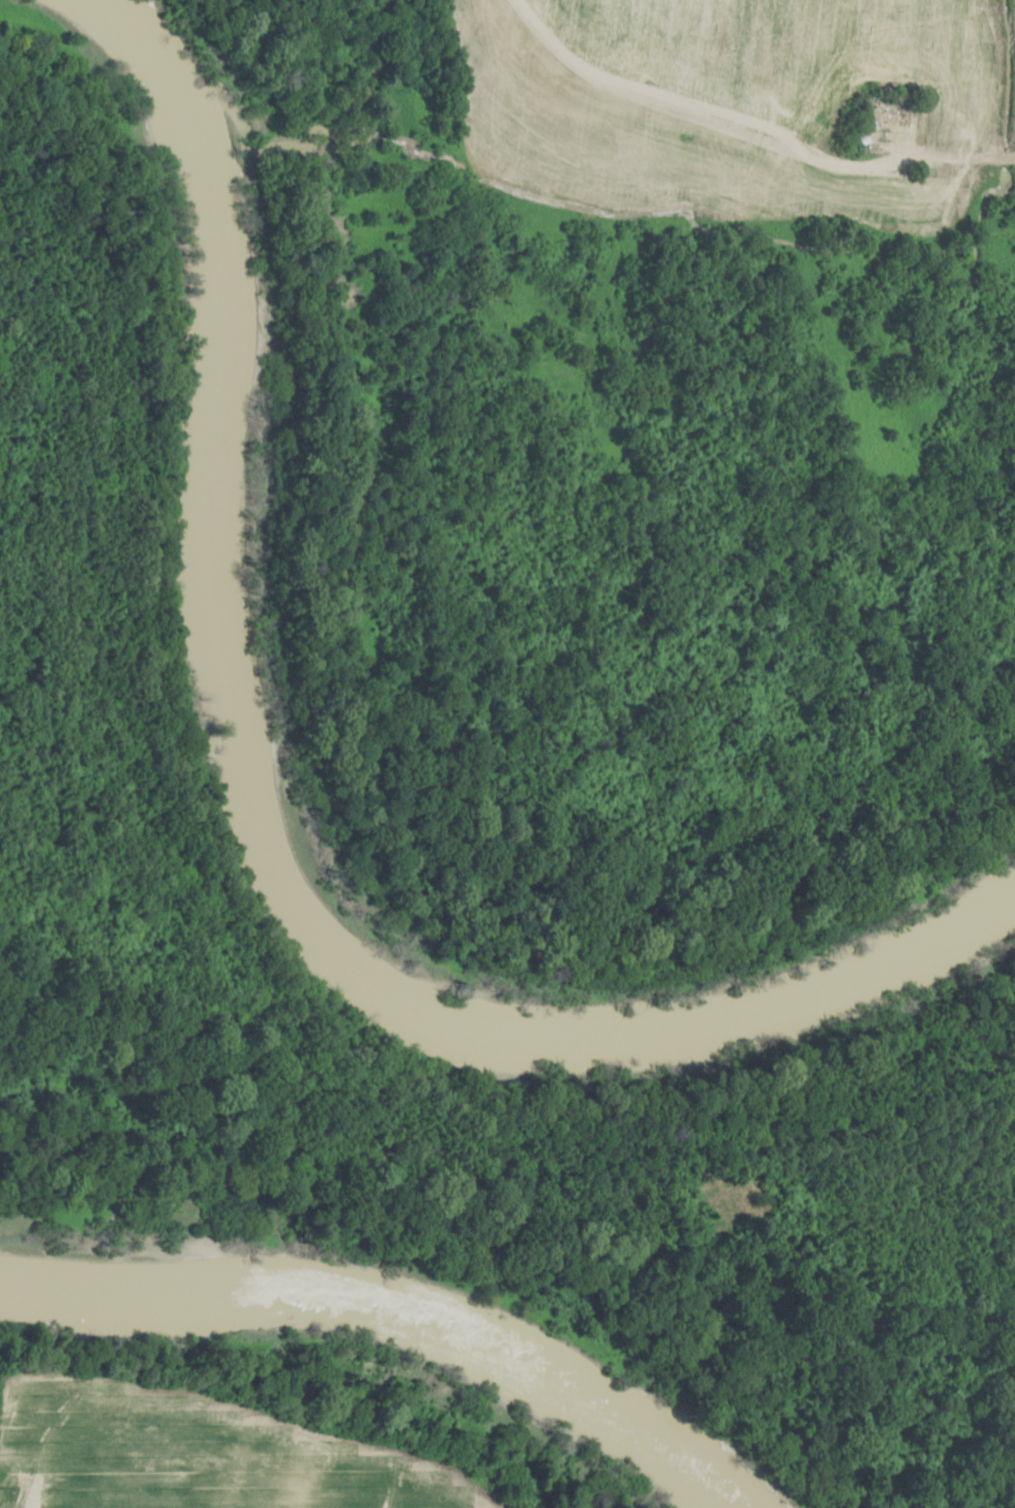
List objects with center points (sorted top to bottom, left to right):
road: (767, 118)
river: (260, 837)
river: (393, 1314)

